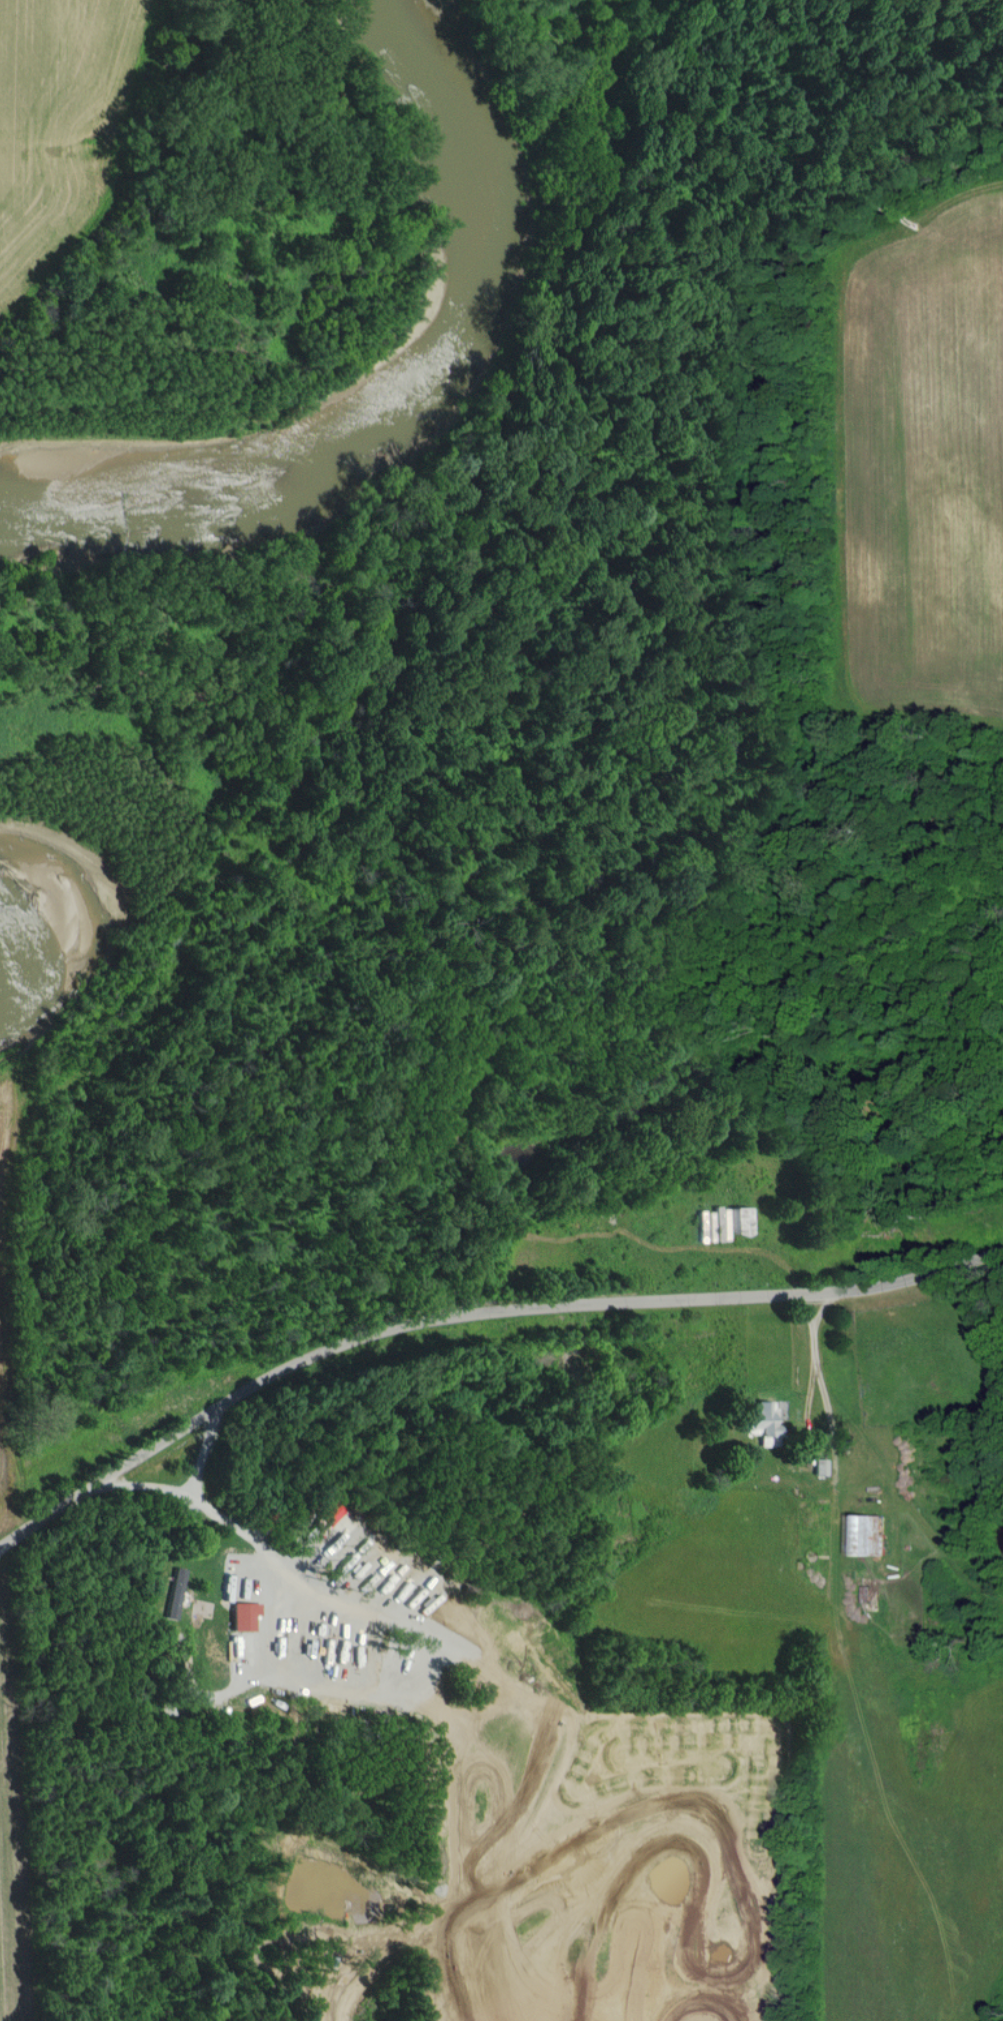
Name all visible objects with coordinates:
river: (413, 398)
river: (156, 864)
road: (473, 1310)
road: (813, 1363)
building: (821, 1465)
road: (190, 1492)
building: (331, 1514)
building: (176, 1591)
building: (245, 1614)
road: (268, 1628)
road: (437, 1669)

